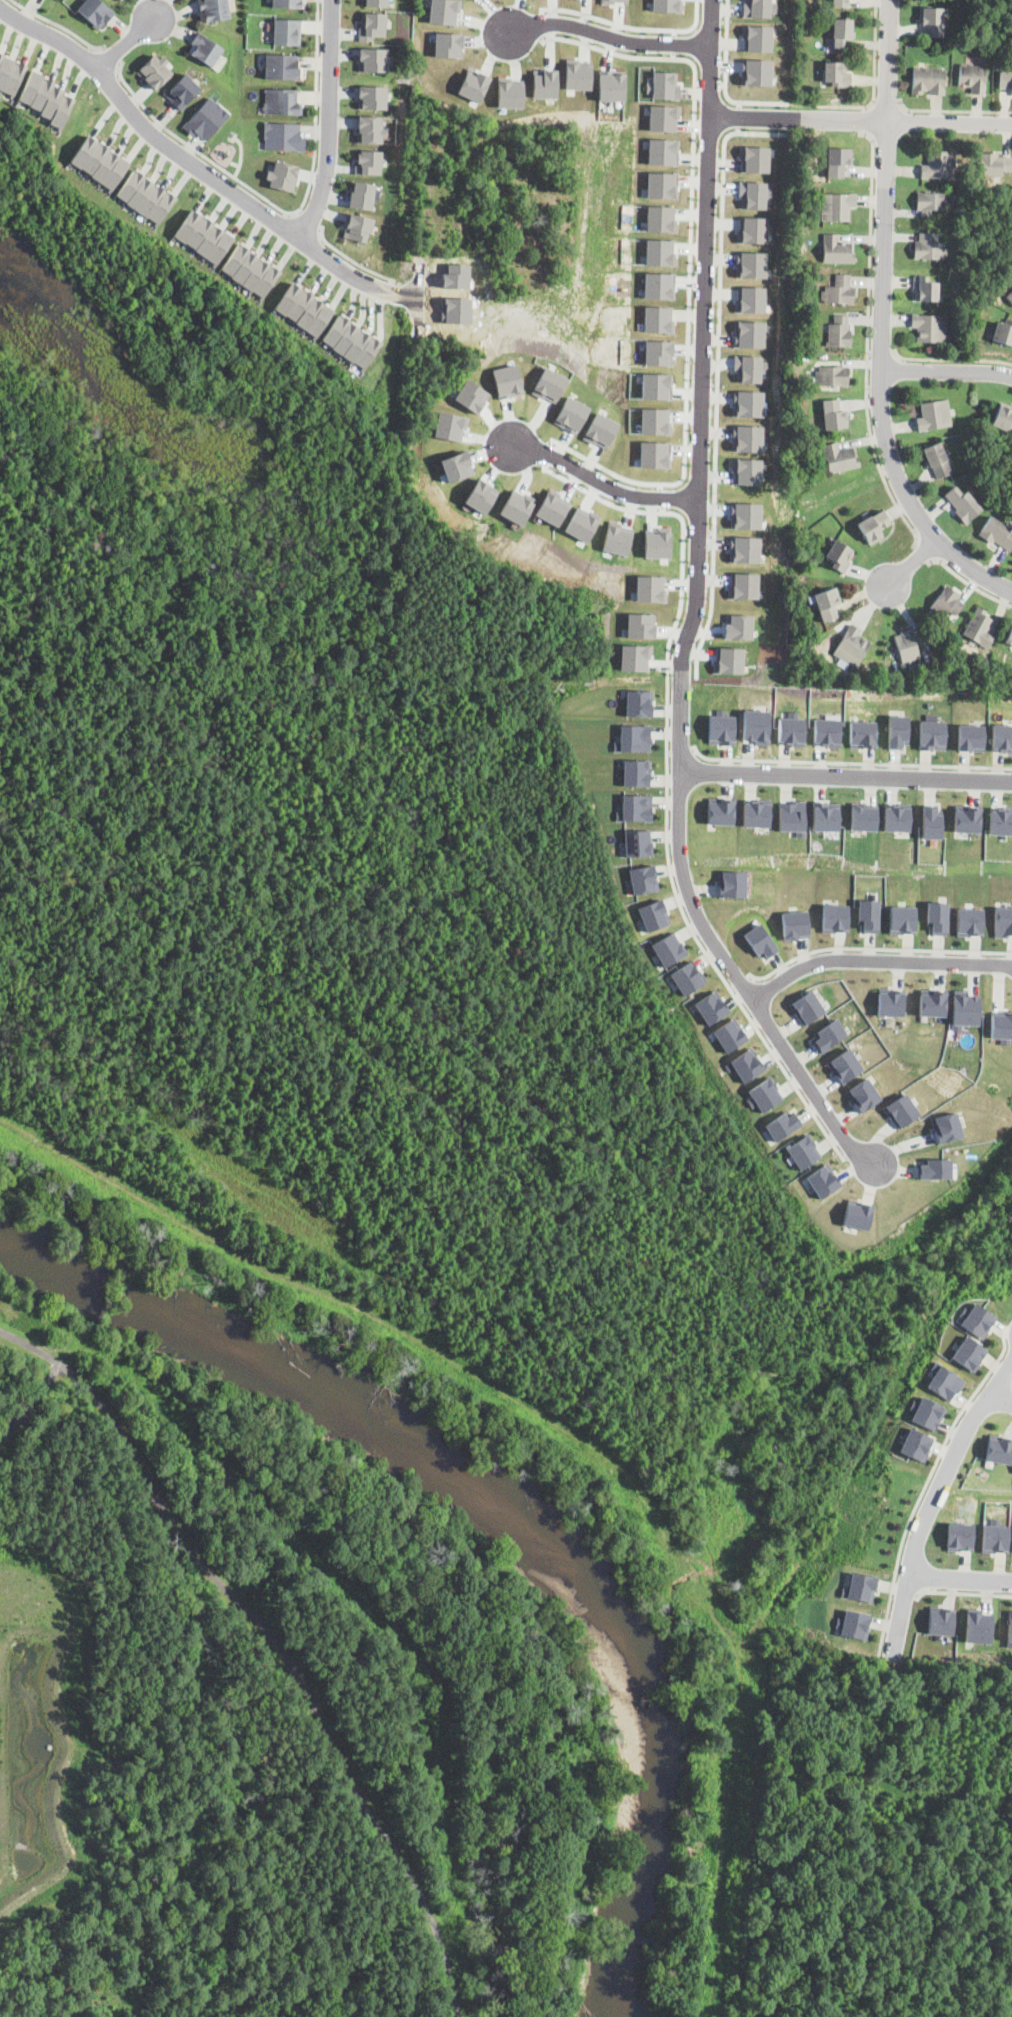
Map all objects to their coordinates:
building: (609, 1)
building: (377, 2)
building: (287, 3)
building: (840, 4)
building: (667, 5)
building: (758, 8)
building: (213, 10)
building: (443, 11)
building: (96, 12)
building: (804, 16)
building: (930, 20)
road: (541, 25)
road: (59, 26)
building: (372, 26)
road: (627, 26)
building: (287, 31)
building: (842, 33)
road: (608, 35)
building: (757, 38)
road: (674, 43)
building: (448, 44)
road: (126, 45)
building: (207, 50)
road: (110, 58)
building: (2, 59)
building: (373, 59)
building: (283, 67)
building: (6, 70)
building: (154, 70)
building: (755, 72)
building: (577, 74)
building: (837, 75)
building: (15, 77)
building: (970, 78)
road: (726, 79)
road: (874, 80)
building: (1005, 80)
building: (926, 81)
road: (710, 82)
building: (544, 83)
building: (473, 84)
building: (611, 84)
building: (32, 85)
building: (663, 85)
building: (182, 90)
building: (509, 92)
building: (43, 93)
building: (373, 97)
building: (54, 100)
building: (281, 101)
road: (886, 105)
building: (63, 109)
road: (953, 110)
road: (738, 116)
building: (663, 117)
building: (206, 119)
road: (861, 119)
road: (866, 120)
road: (330, 123)
building: (369, 130)
building: (283, 136)
building: (86, 150)
building: (662, 151)
building: (97, 158)
building: (753, 158)
building: (369, 161)
building: (838, 161)
building: (992, 164)
building: (108, 165)
building: (937, 166)
road: (199, 168)
building: (118, 171)
building: (280, 176)
building: (133, 184)
building: (662, 185)
building: (143, 192)
building: (753, 194)
building: (362, 195)
building: (153, 199)
building: (930, 202)
building: (163, 206)
building: (837, 207)
road: (283, 211)
building: (661, 218)
road: (305, 223)
building: (189, 224)
building: (357, 227)
building: (752, 229)
building: (199, 232)
building: (210, 240)
building: (220, 247)
building: (928, 248)
building: (836, 251)
building: (659, 252)
building: (235, 259)
road: (351, 259)
building: (963, 261)
building: (751, 264)
road: (689, 265)
building: (245, 266)
building: (256, 274)
building: (267, 280)
building: (1011, 284)
building: (658, 285)
building: (1011, 285)
building: (925, 289)
building: (839, 291)
building: (289, 296)
building: (1009, 298)
building: (750, 300)
building: (300, 304)
building: (311, 312)
building: (657, 319)
building: (322, 320)
road: (882, 322)
building: (930, 328)
building: (337, 329)
building: (1003, 332)
building: (749, 333)
building: (839, 333)
building: (348, 337)
road: (868, 342)
building: (359, 345)
building: (369, 352)
building: (658, 352)
road: (882, 355)
road: (951, 361)
building: (749, 367)
road: (946, 371)
building: (832, 376)
road: (718, 377)
building: (507, 381)
building: (549, 384)
building: (656, 385)
building: (472, 395)
building: (749, 403)
building: (570, 414)
building: (833, 415)
building: (933, 416)
building: (1003, 418)
building: (654, 421)
building: (449, 425)
building: (600, 430)
building: (746, 437)
road: (547, 453)
building: (654, 453)
building: (839, 458)
building: (937, 460)
building: (455, 466)
park: (172, 467)
building: (747, 471)
road: (600, 481)
building: (481, 495)
road: (659, 497)
building: (963, 505)
building: (517, 507)
building: (552, 507)
building: (745, 514)
building: (582, 524)
building: (872, 526)
road: (698, 531)
building: (997, 533)
building: (616, 537)
building: (656, 542)
building: (744, 548)
road: (926, 552)
building: (839, 556)
building: (812, 557)
road: (911, 562)
road: (969, 583)
building: (743, 585)
building: (650, 588)
building: (944, 603)
building: (825, 604)
road: (696, 608)
building: (640, 625)
building: (738, 626)
building: (979, 629)
building: (1008, 636)
building: (851, 646)
building: (906, 646)
building: (634, 657)
building: (728, 660)
building: (930, 673)
building: (638, 702)
building: (756, 726)
building: (721, 728)
building: (791, 729)
building: (897, 731)
building: (827, 732)
building: (931, 732)
building: (862, 734)
building: (970, 737)
building: (633, 738)
building: (1001, 738)
road: (681, 750)
road: (851, 762)
building: (636, 772)
road: (846, 776)
road: (667, 785)
building: (635, 808)
building: (720, 810)
building: (755, 813)
building: (863, 815)
building: (824, 816)
building: (791, 817)
building: (896, 817)
building: (966, 818)
building: (931, 821)
building: (1000, 821)
building: (637, 842)
building: (642, 879)
building: (731, 883)
building: (652, 914)
building: (868, 915)
building: (937, 917)
building: (835, 918)
building: (902, 919)
building: (969, 921)
building: (1003, 921)
building: (794, 924)
building: (759, 941)
road: (876, 948)
building: (668, 949)
road: (876, 960)
building: (687, 977)
road: (738, 981)
building: (891, 1001)
building: (933, 1001)
building: (710, 1006)
building: (807, 1007)
building: (965, 1009)
building: (1001, 1025)
building: (729, 1034)
building: (830, 1034)
building: (744, 1065)
building: (845, 1065)
building: (763, 1094)
building: (864, 1095)
building: (902, 1111)
building: (782, 1124)
building: (947, 1127)
building: (803, 1151)
building: (935, 1168)
building: (823, 1180)
building: (857, 1214)
building: (976, 1319)
building: (969, 1352)
road: (1003, 1372)
building: (944, 1381)
road: (1001, 1398)
road: (29, 1399)
building: (925, 1412)
building: (914, 1444)
building: (998, 1449)
road: (925, 1485)
river: (504, 1494)
road: (931, 1502)
building: (960, 1536)
building: (996, 1538)
road: (959, 1579)
building: (859, 1586)
road: (906, 1591)
road: (963, 1593)
building: (941, 1619)
building: (852, 1623)
building: (979, 1625)
building: (1010, 1626)
road: (273, 1642)
park: (326, 1720)

